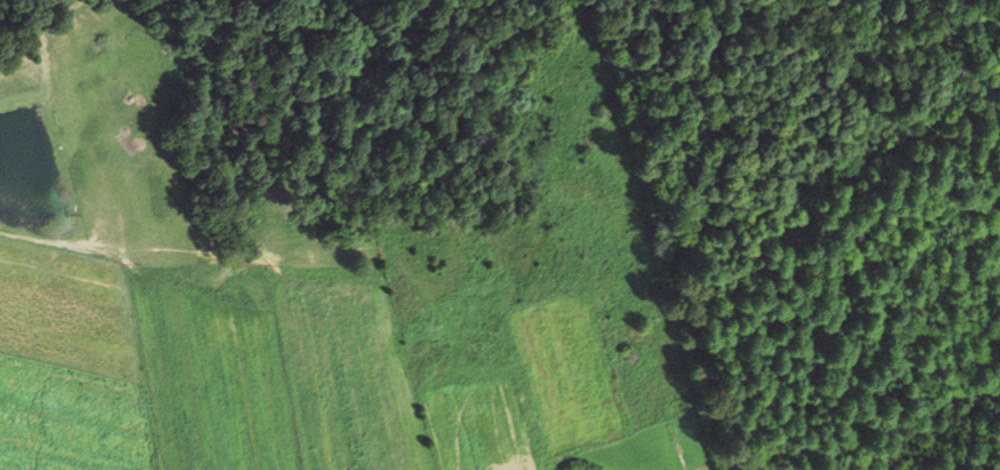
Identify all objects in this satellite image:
road: (958, 235)

